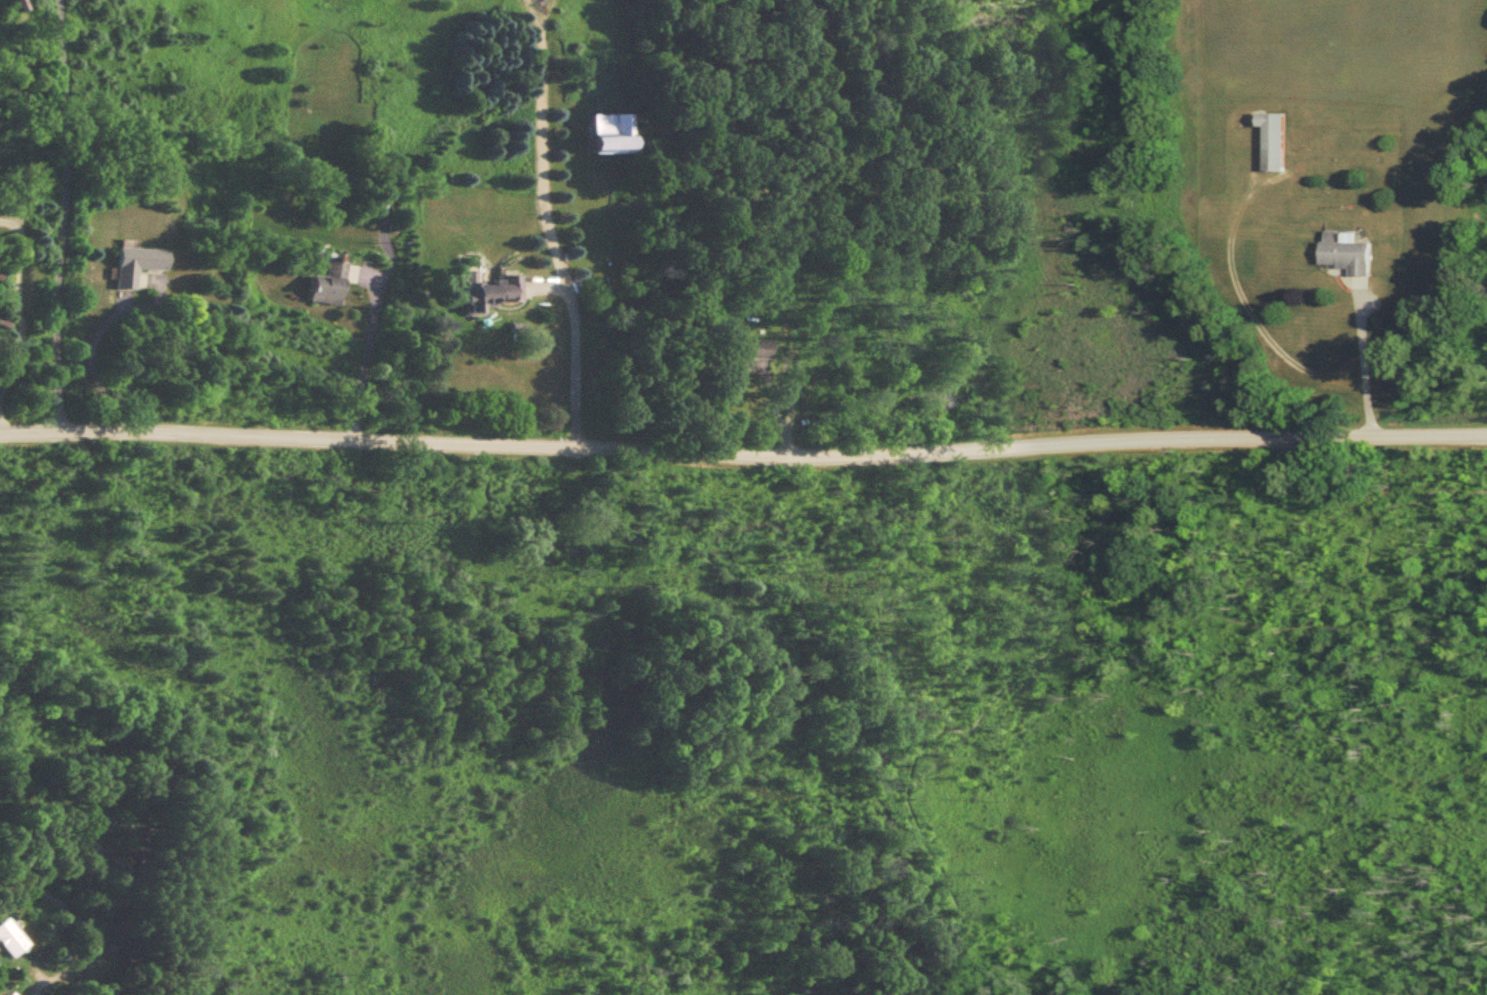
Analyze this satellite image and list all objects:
road: (532, 9)
road: (544, 9)
building: (601, 134)
building: (1274, 141)
road: (538, 154)
road: (60, 215)
building: (1349, 257)
building: (137, 265)
building: (323, 286)
building: (485, 293)
road: (19, 300)
road: (93, 338)
road: (575, 346)
road: (366, 356)
building: (745, 357)
road: (1364, 366)
road: (743, 442)
parking lot: (1296, 452)
road: (1433, 502)
road: (1071, 605)
road: (72, 919)
building: (10, 939)

